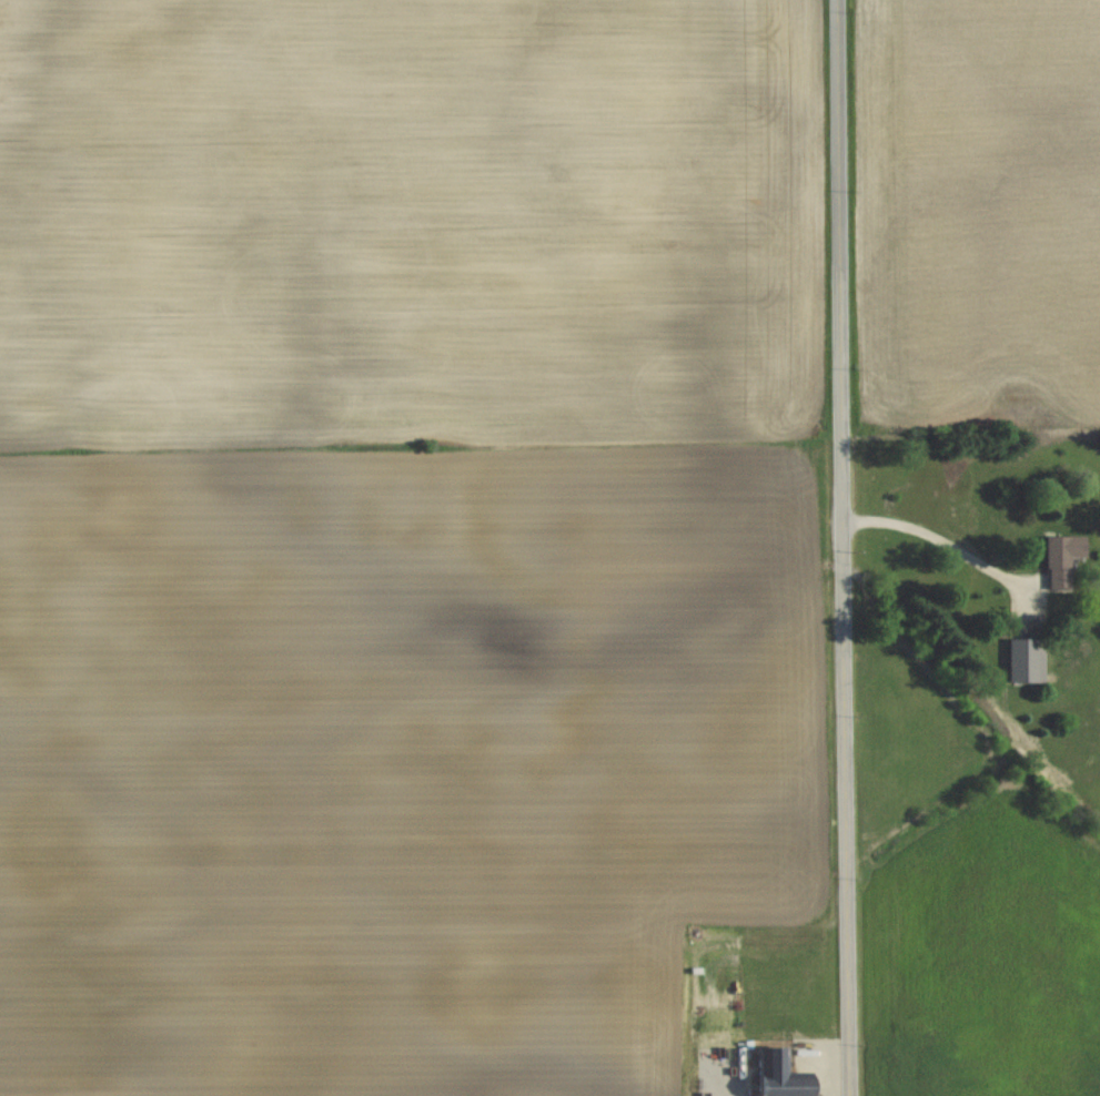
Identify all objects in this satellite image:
road: (940, 540)
road: (844, 548)
building: (1062, 557)
building: (1026, 659)
building: (720, 1064)
building: (779, 1073)

